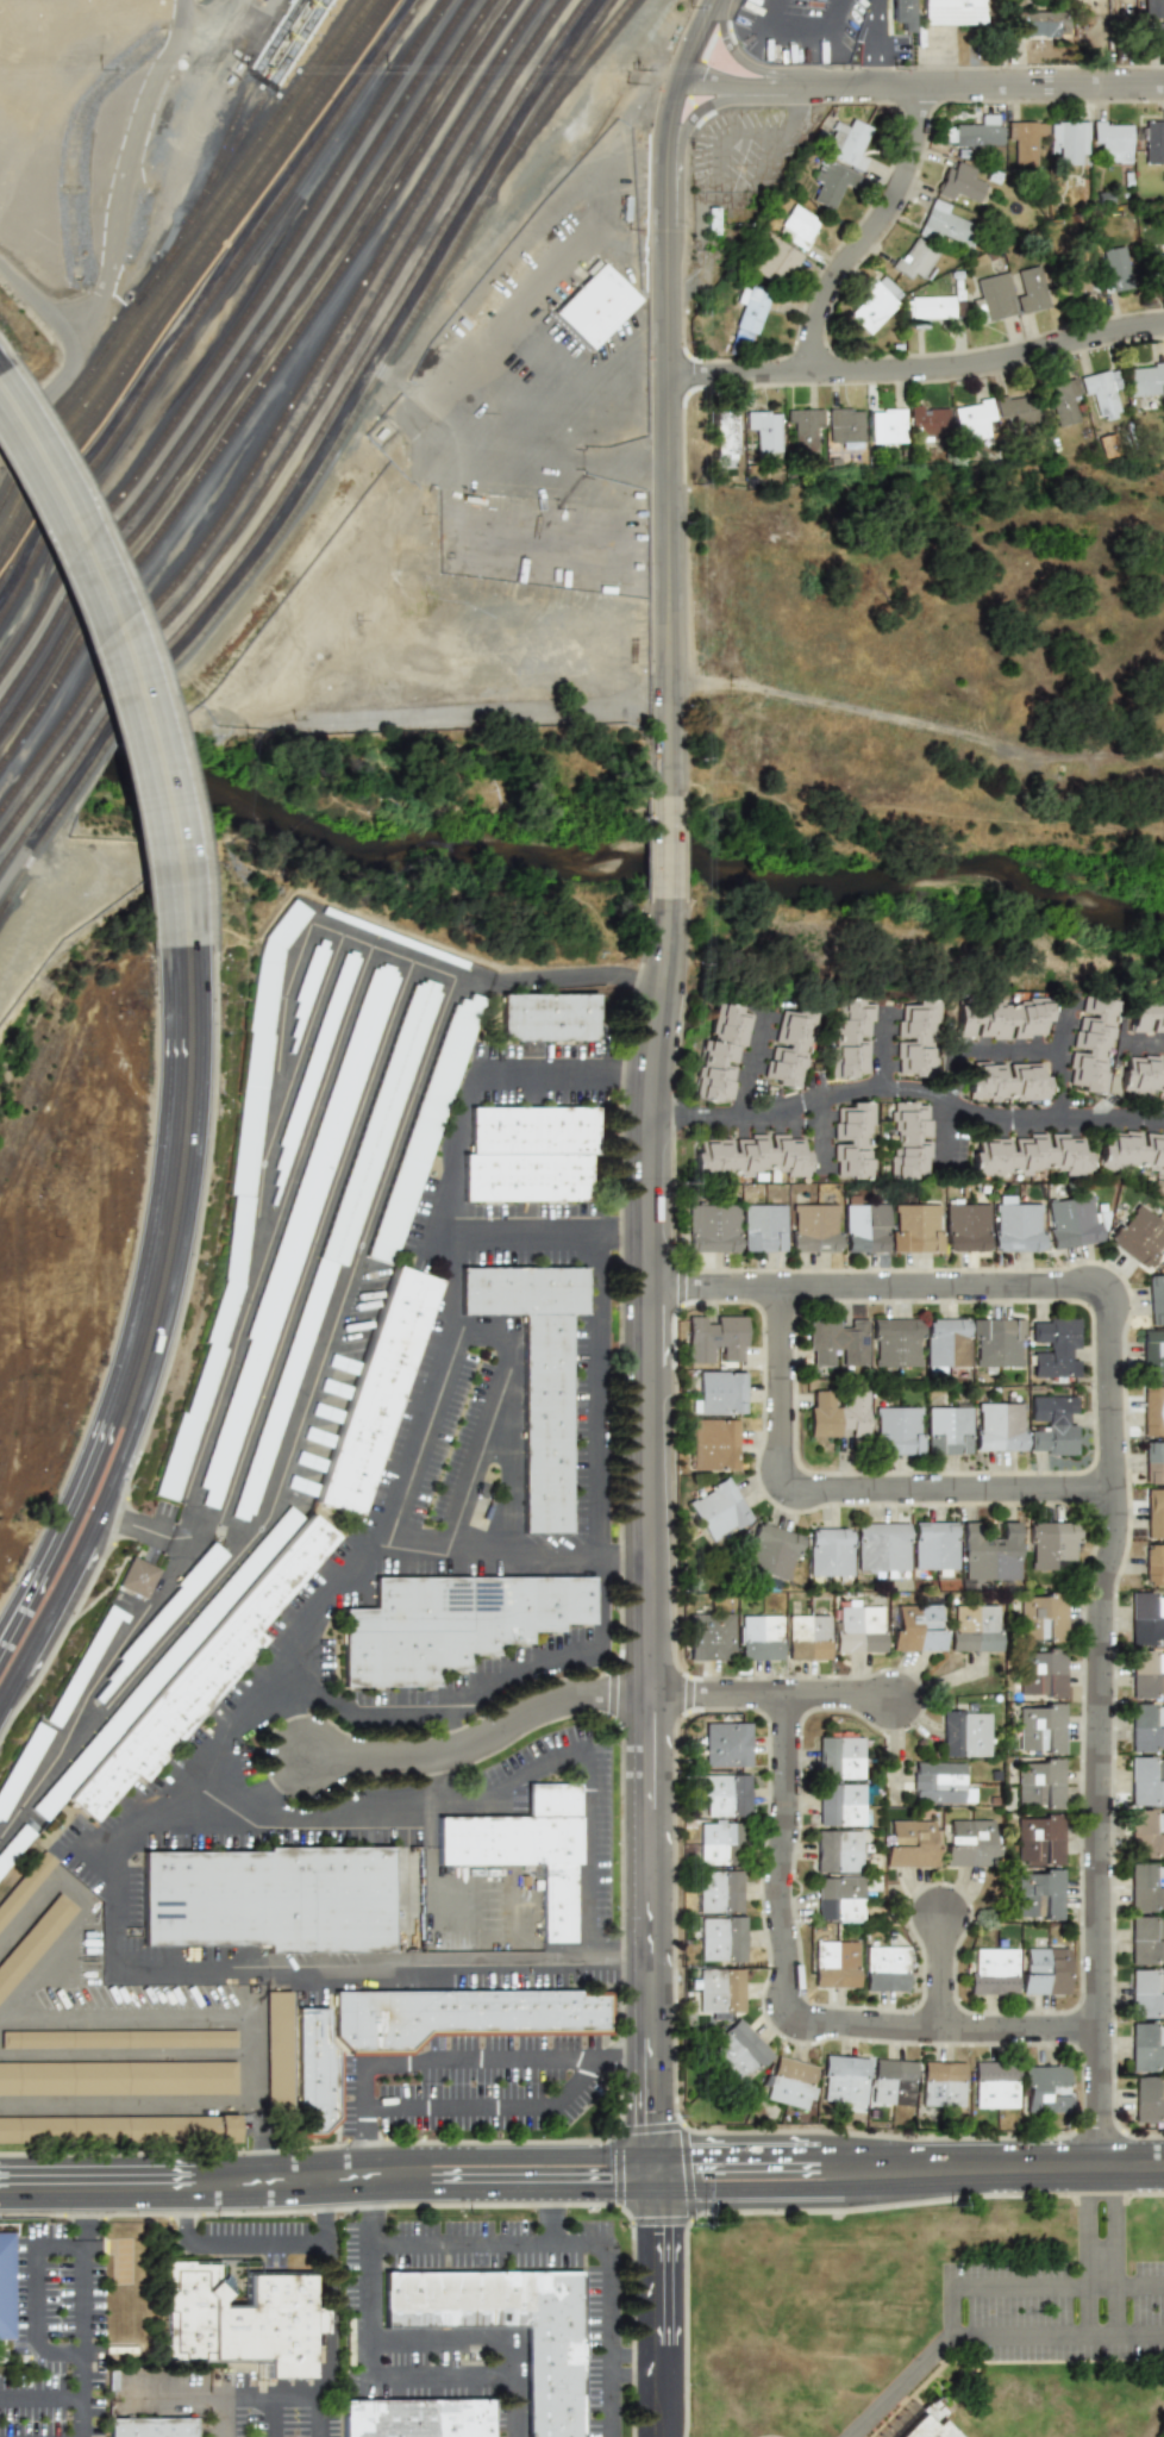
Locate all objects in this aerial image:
building: (1152, 8)
building: (953, 12)
building: (902, 13)
building: (1040, 24)
road: (795, 33)
building: (1159, 33)
road: (700, 38)
road: (198, 83)
road: (924, 86)
railway: (264, 98)
railway: (537, 110)
road: (794, 110)
building: (981, 132)
road: (720, 136)
building: (1113, 139)
building: (1070, 140)
building: (1025, 142)
building: (1154, 142)
building: (850, 144)
railway: (223, 152)
road: (759, 176)
building: (832, 181)
building: (959, 182)
road: (690, 198)
road: (722, 208)
building: (711, 220)
building: (947, 223)
building: (799, 226)
road: (874, 231)
road: (119, 236)
railway: (175, 254)
building: (774, 258)
building: (915, 261)
railway: (182, 265)
building: (1115, 269)
building: (1158, 269)
railway: (188, 277)
building: (1079, 277)
railway: (195, 289)
building: (1031, 290)
building: (995, 295)
road: (42, 306)
railway: (206, 306)
building: (874, 306)
building: (596, 307)
building: (930, 310)
building: (751, 313)
road: (438, 327)
railway: (229, 343)
road: (6, 350)
railway: (239, 357)
road: (918, 368)
railway: (250, 371)
building: (1145, 379)
railway: (262, 386)
building: (1102, 394)
building: (1064, 401)
building: (1016, 408)
railway: (287, 418)
building: (972, 418)
building: (928, 423)
building: (805, 424)
building: (888, 425)
building: (845, 427)
building: (765, 431)
building: (724, 432)
railway: (299, 433)
road: (668, 436)
railway: (313, 450)
railway: (326, 464)
railway: (23, 548)
road: (149, 633)
park: (946, 658)
road: (125, 660)
road: (915, 726)
river: (55, 742)
road: (651, 781)
river: (634, 848)
road: (651, 848)
road: (667, 849)
railway: (5, 907)
building: (394, 938)
road: (558, 977)
building: (307, 986)
building: (1146, 1016)
building: (546, 1017)
building: (1001, 1018)
building: (849, 1037)
building: (913, 1037)
road: (1143, 1038)
building: (1091, 1043)
building: (788, 1046)
road: (1040, 1050)
building: (721, 1052)
building: (314, 1063)
road: (544, 1066)
road: (633, 1066)
building: (1143, 1075)
building: (1007, 1081)
road: (916, 1094)
road: (808, 1101)
road: (1032, 1114)
road: (1110, 1114)
building: (425, 1129)
road: (946, 1133)
building: (853, 1139)
building: (910, 1141)
building: (1131, 1151)
building: (527, 1155)
building: (1030, 1155)
building: (750, 1156)
road: (451, 1157)
road: (268, 1160)
road: (180, 1175)
building: (238, 1202)
building: (1076, 1221)
building: (864, 1225)
building: (968, 1225)
building: (298, 1226)
building: (712, 1226)
building: (1019, 1226)
building: (764, 1227)
building: (814, 1227)
building: (918, 1227)
building: (342, 1229)
building: (1139, 1235)
road: (622, 1245)
road: (512, 1246)
road: (449, 1285)
road: (345, 1288)
building: (1156, 1298)
road: (482, 1329)
building: (715, 1337)
building: (836, 1341)
building: (895, 1342)
building: (946, 1343)
building: (997, 1343)
building: (1056, 1348)
building: (1153, 1351)
road: (171, 1355)
building: (536, 1374)
building: (377, 1389)
building: (719, 1393)
road: (594, 1402)
building: (1152, 1411)
building: (836, 1414)
building: (1052, 1424)
building: (997, 1426)
building: (897, 1429)
building: (947, 1429)
road: (414, 1437)
road: (508, 1444)
building: (713, 1444)
building: (1152, 1461)
road: (851, 1487)
road: (1109, 1504)
building: (718, 1508)
building: (1153, 1513)
road: (63, 1520)
road: (145, 1529)
road: (649, 1537)
building: (1049, 1545)
building: (881, 1548)
building: (932, 1548)
building: (772, 1552)
building: (830, 1552)
building: (987, 1554)
road: (79, 1555)
road: (512, 1558)
building: (1151, 1564)
building: (137, 1577)
road: (102, 1592)
building: (167, 1612)
building: (1037, 1617)
building: (1145, 1618)
building: (450, 1623)
building: (856, 1626)
building: (914, 1627)
building: (968, 1627)
building: (709, 1636)
building: (759, 1637)
building: (807, 1637)
building: (170, 1658)
building: (83, 1667)
building: (1038, 1673)
building: (1145, 1674)
building: (198, 1676)
road: (267, 1677)
road: (92, 1688)
road: (770, 1692)
road: (482, 1695)
building: (1145, 1726)
building: (1038, 1727)
building: (960, 1732)
building: (727, 1744)
road: (440, 1756)
building: (839, 1757)
building: (21, 1764)
road: (368, 1775)
building: (1145, 1780)
building: (937, 1782)
building: (1039, 1783)
building: (724, 1795)
building: (839, 1804)
road: (380, 1813)
building: (1146, 1832)
building: (1043, 1838)
building: (910, 1842)
building: (968, 1842)
building: (719, 1843)
building: (14, 1845)
building: (521, 1850)
building: (837, 1850)
road: (121, 1851)
road: (589, 1855)
building: (23, 1881)
road: (434, 1882)
building: (1146, 1886)
building: (719, 1891)
road: (77, 1892)
building: (1038, 1894)
building: (27, 1895)
building: (269, 1899)
building: (838, 1899)
road: (31, 1912)
road: (113, 1916)
building: (31, 1938)
building: (721, 1938)
building: (1146, 1939)
building: (38, 1950)
building: (836, 1963)
road: (637, 1964)
road: (367, 1966)
road: (50, 1968)
building: (885, 1969)
road: (939, 1969)
building: (1044, 1970)
building: (991, 1972)
building: (719, 1991)
building: (1146, 1993)
road: (791, 2005)
road: (132, 2011)
building: (464, 2018)
building: (118, 2044)
building: (1146, 2047)
building: (276, 2048)
building: (738, 2050)
road: (451, 2060)
building: (320, 2075)
building: (844, 2079)
building: (891, 2081)
building: (791, 2082)
building: (941, 2083)
building: (118, 2085)
building: (995, 2086)
building: (1044, 2088)
road: (255, 2095)
building: (1149, 2099)
road: (492, 2110)
building: (119, 2137)
road: (582, 2175)
traffic signals: (657, 2175)
road: (426, 2205)
road: (553, 2210)
road: (256, 2244)
road: (587, 2244)
road: (1087, 2248)
road: (1113, 2249)
building: (6, 2282)
road: (37, 2289)
road: (657, 2305)
road: (83, 2308)
road: (951, 2311)
building: (243, 2316)
road: (459, 2337)
road: (328, 2355)
road: (636, 2366)
road: (373, 2373)
road: (903, 2382)
building: (557, 2383)
road: (42, 2398)
road: (239, 2398)
road: (223, 2417)
road: (269, 2417)
building: (420, 2418)
building: (151, 2426)
building: (930, 2429)
road: (771, 2436)

